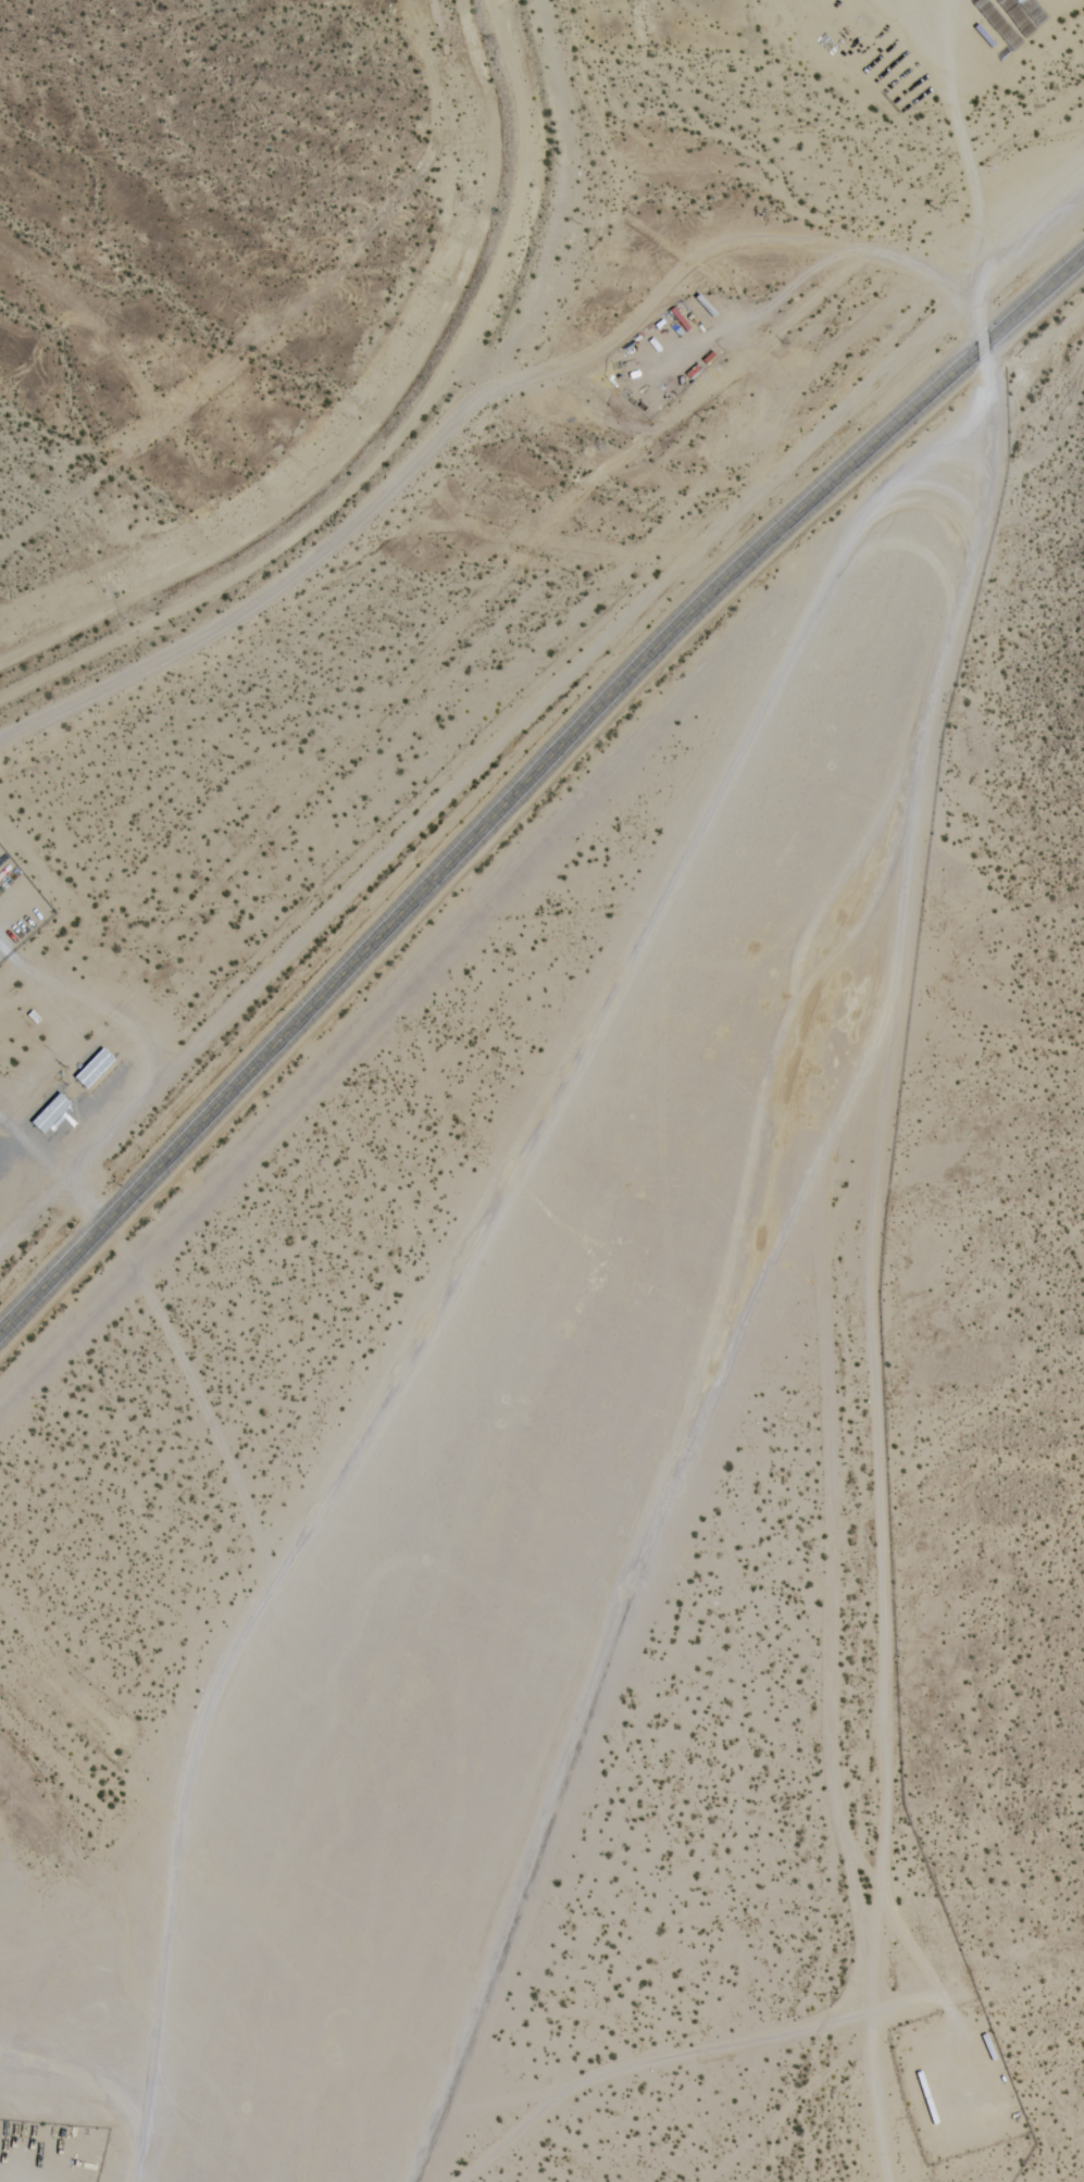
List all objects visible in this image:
road: (936, 504)
road: (527, 778)
road: (134, 1049)
building: (95, 1069)
building: (50, 1110)
road: (52, 1169)
road: (477, 1229)
road: (735, 1304)
road: (198, 1396)

